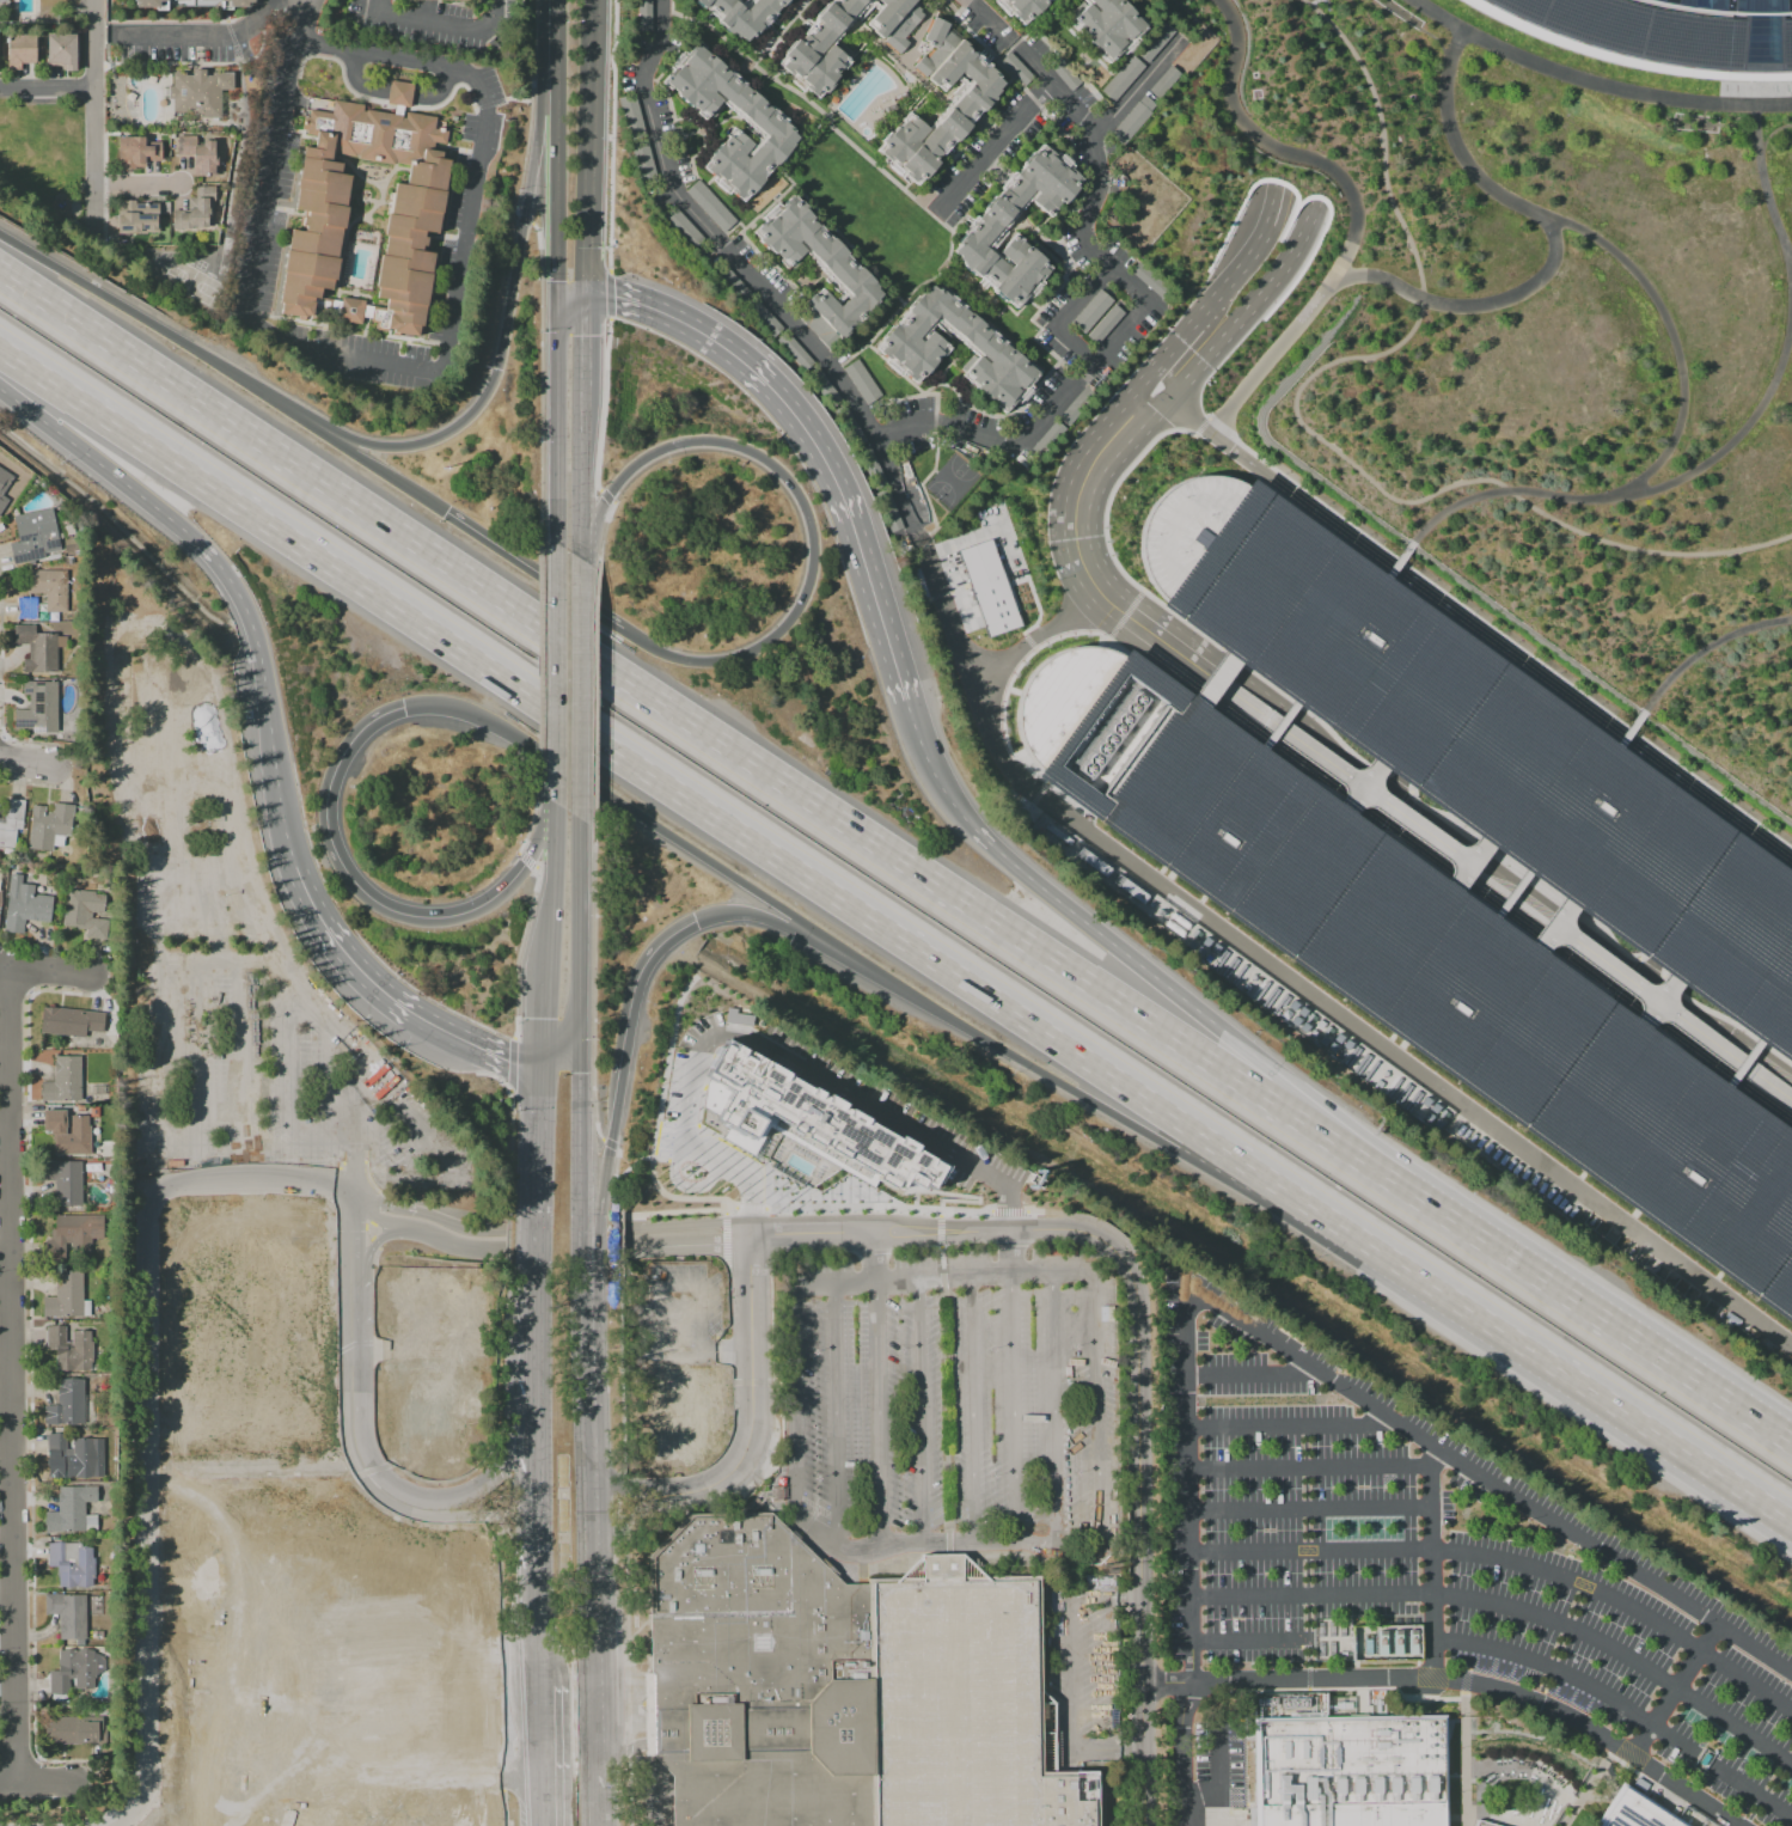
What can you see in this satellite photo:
building: (164, 0)
building: (449, 0)
building: (4, 1)
building: (146, 2)
building: (189, 2)
building: (237, 2)
road: (932, 6)
road: (1323, 6)
building: (1023, 10)
building: (643, 16)
building: (739, 16)
road: (991, 22)
building: (892, 24)
building: (1105, 26)
road: (445, 31)
road: (781, 32)
road: (219, 36)
road: (591, 39)
building: (1649, 41)
road: (93, 42)
building: (1155, 44)
road: (555, 47)
building: (819, 49)
building: (19, 50)
building: (61, 50)
building: (1016, 72)
building: (1064, 74)
building: (1121, 80)
building: (1163, 80)
road: (47, 87)
road: (1133, 91)
building: (200, 92)
road: (397, 93)
road: (1576, 96)
traffic signals: (1292, 97)
traffic signals: (1327, 97)
road: (516, 98)
road: (840, 99)
road: (489, 103)
road: (530, 108)
building: (628, 109)
road: (815, 109)
building: (942, 114)
building: (754, 117)
building: (1132, 120)
road: (611, 136)
road: (990, 148)
building: (136, 151)
road: (697, 151)
road: (1093, 152)
building: (198, 154)
road: (91, 155)
park: (41, 166)
road: (134, 184)
road: (1762, 185)
road: (586, 188)
road: (556, 196)
road: (1360, 201)
road: (1274, 202)
building: (710, 208)
building: (196, 209)
building: (417, 210)
building: (137, 216)
road: (521, 219)
building: (987, 228)
building: (685, 230)
road: (839, 236)
road: (744, 238)
road: (1553, 249)
road: (1242, 264)
road: (1283, 264)
building: (817, 265)
building: (727, 276)
building: (1148, 279)
road: (753, 286)
traffic signals: (583, 295)
road: (608, 295)
road: (570, 297)
road: (906, 297)
traffic signals: (557, 299)
road: (991, 309)
building: (1090, 312)
road: (1200, 312)
building: (1105, 325)
road: (1120, 332)
road: (506, 336)
road: (582, 340)
road: (1173, 342)
building: (912, 348)
building: (794, 350)
road: (444, 354)
traffic signals: (500, 371)
road: (224, 372)
road: (1193, 373)
road: (944, 374)
road: (539, 375)
road: (1166, 378)
road: (759, 379)
building: (858, 380)
road: (1144, 383)
road: (913, 384)
traffic signals: (1178, 392)
road: (604, 405)
building: (1080, 407)
road: (1192, 414)
road: (558, 423)
road: (1751, 425)
road: (1199, 426)
road: (903, 427)
road: (1309, 427)
building: (1048, 442)
road: (1665, 447)
road: (581, 472)
road: (929, 475)
park: (954, 481)
building: (4, 487)
road: (605, 496)
road: (805, 506)
road: (1075, 507)
traffic signals: (446, 513)
building: (892, 519)
road: (980, 531)
building: (35, 536)
road: (601, 537)
road: (1107, 546)
road: (213, 560)
road: (1393, 562)
road: (534, 570)
road: (922, 584)
building: (50, 588)
building: (980, 591)
road: (938, 593)
road: (1034, 599)
building: (26, 607)
road: (1124, 613)
road: (882, 624)
road: (1136, 625)
road: (1498, 633)
road: (1034, 636)
road: (1028, 641)
road: (1701, 641)
road: (1500, 647)
building: (38, 648)
road: (1167, 649)
road: (1237, 659)
road: (1157, 660)
road: (538, 661)
road: (1137, 662)
road: (1236, 664)
road: (557, 674)
road: (1210, 680)
road: (1212, 680)
road: (579, 689)
road: (1013, 690)
road: (1179, 691)
road: (647, 694)
road: (1180, 695)
road: (593, 700)
building: (38, 707)
traffic signals: (403, 707)
road: (1002, 712)
road: (1292, 714)
road: (1316, 717)
road: (1235, 722)
road: (1276, 727)
road: (1625, 731)
building: (1476, 744)
parking garage: (1476, 744)
road: (616, 752)
road: (1022, 755)
road: (24, 757)
road: (1272, 762)
road: (1389, 770)
road: (1348, 780)
road: (1396, 780)
road: (1396, 783)
traffic signals: (1393, 787)
road: (1412, 787)
road: (1362, 788)
road: (1039, 793)
road: (1332, 793)
road: (610, 796)
road: (1381, 804)
road: (1392, 813)
traffic signals: (1369, 820)
building: (11, 822)
road: (531, 822)
road: (1352, 823)
building: (48, 824)
road: (1442, 824)
road: (1364, 825)
road: (1363, 829)
road: (1374, 838)
road: (287, 843)
road: (526, 859)
building: (1093, 862)
road: (1463, 862)
road: (1528, 869)
road: (1448, 874)
road: (552, 884)
building: (0, 893)
road: (1506, 893)
road: (372, 898)
road: (1063, 904)
building: (24, 905)
building: (85, 911)
road: (751, 914)
road: (1492, 918)
road: (1570, 920)
traffic signals: (697, 922)
road: (1549, 924)
road: (577, 928)
road: (824, 938)
road: (516, 951)
road: (1644, 955)
parking lot: (234, 958)
road: (232, 960)
building: (1415, 960)
parking garage: (1415, 960)
road: (1582, 960)
road: (1652, 970)
road: (45, 971)
road: (1626, 978)
traffic signals: (1649, 978)
building: (1248, 979)
road: (593, 985)
road: (1307, 990)
road: (1639, 990)
road: (389, 997)
traffic signals: (1634, 997)
road: (1656, 1002)
road: (1608, 1003)
road: (1682, 1004)
road: (1625, 1007)
road: (632, 1012)
road: (1670, 1012)
road: (539, 1014)
road: (1723, 1016)
building: (736, 1018)
building: (71, 1021)
road: (1634, 1021)
traffic signals: (577, 1039)
road: (1757, 1046)
road: (557, 1051)
road: (240, 1054)
road: (772, 1054)
road: (197, 1055)
road: (288, 1063)
road: (510, 1064)
traffic signals: (538, 1064)
road: (1742, 1064)
road: (1708, 1065)
road: (1033, 1067)
building: (63, 1080)
road: (1711, 1081)
road: (329, 1086)
building: (1401, 1088)
road: (1284, 1094)
road: (1791, 1100)
road: (656, 1118)
building: (807, 1122)
building: (67, 1131)
road: (608, 1144)
road: (256, 1148)
road: (577, 1149)
road: (1350, 1153)
road: (641, 1158)
road: (616, 1159)
road: (157, 1168)
building: (65, 1180)
road: (681, 1185)
road: (600, 1195)
road: (875, 1207)
road: (748, 1208)
road: (716, 1209)
road: (1007, 1211)
road: (429, 1215)
road: (1081, 1215)
road: (681, 1226)
building: (74, 1234)
road: (426, 1235)
road: (533, 1235)
road: (681, 1245)
road: (372, 1246)
road: (1009, 1251)
road: (873, 1257)
road: (506, 1269)
road: (941, 1277)
road: (579, 1278)
road: (660, 1290)
building: (66, 1296)
road: (350, 1311)
parking lot: (678, 1313)
road: (1598, 1315)
road: (461, 1318)
building: (251, 1326)
road: (1266, 1337)
road: (1512, 1339)
building: (71, 1348)
road: (1139, 1349)
road: (727, 1350)
road: (581, 1364)
road: (1248, 1374)
road: (16, 1376)
road: (944, 1392)
building: (66, 1403)
road: (754, 1404)
road: (1013, 1406)
road: (970, 1409)
building: (427, 1410)
road: (919, 1410)
road: (1053, 1410)
road: (146, 1413)
building: (677, 1413)
road: (876, 1415)
road: (834, 1417)
road: (1288, 1425)
road: (791, 1428)
road: (1095, 1430)
parking lot: (985, 1440)
building: (77, 1456)
road: (499, 1462)
road: (1309, 1467)
road: (616, 1485)
road: (504, 1490)
road: (467, 1492)
building: (71, 1508)
road: (1310, 1508)
road: (439, 1515)
road: (617, 1519)
road: (500, 1520)
road: (533, 1541)
road: (944, 1541)
road: (589, 1551)
road: (1510, 1559)
road: (1431, 1562)
parking lot: (1437, 1562)
building: (72, 1563)
road: (1511, 1607)
building: (68, 1614)
road: (1071, 1638)
road: (1248, 1641)
road: (626, 1668)
building: (75, 1669)
road: (1112, 1674)
road: (1570, 1675)
building: (758, 1678)
building: (241, 1679)
road: (501, 1679)
road: (1461, 1681)
road: (1674, 1690)
building: (964, 1704)
road: (592, 1726)
building: (74, 1730)
road: (538, 1751)
road: (1108, 1751)
road: (619, 1755)
building: (1348, 1771)
road: (1219, 1781)
road: (35, 1784)
road: (1754, 1793)
road: (592, 1802)
building: (1632, 1812)
building: (1484, 1824)

